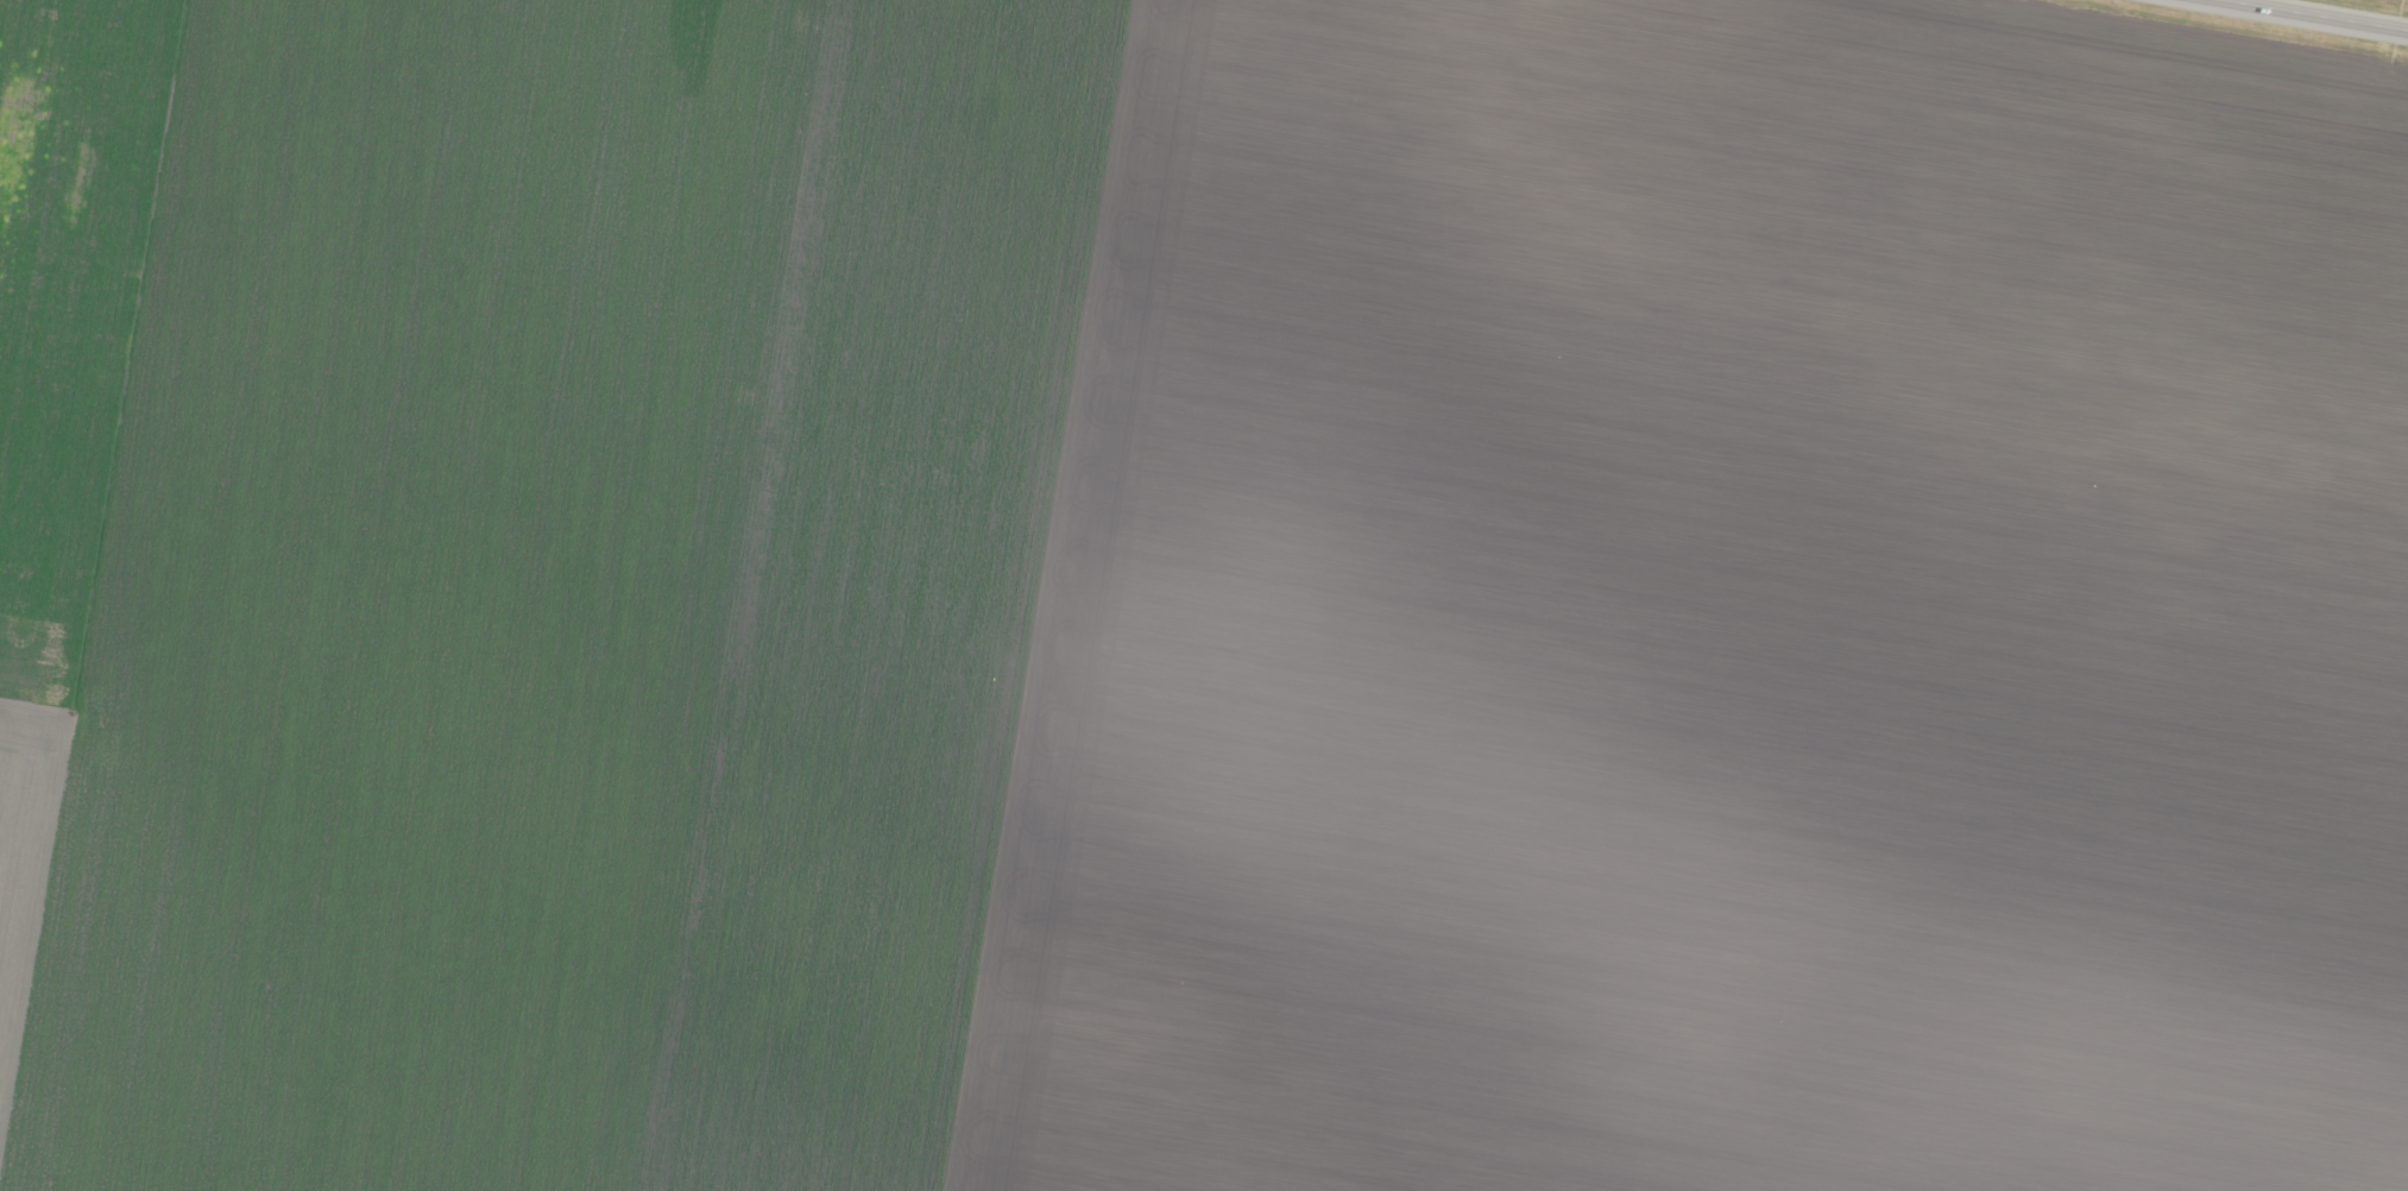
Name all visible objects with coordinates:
road: (2318, 14)

